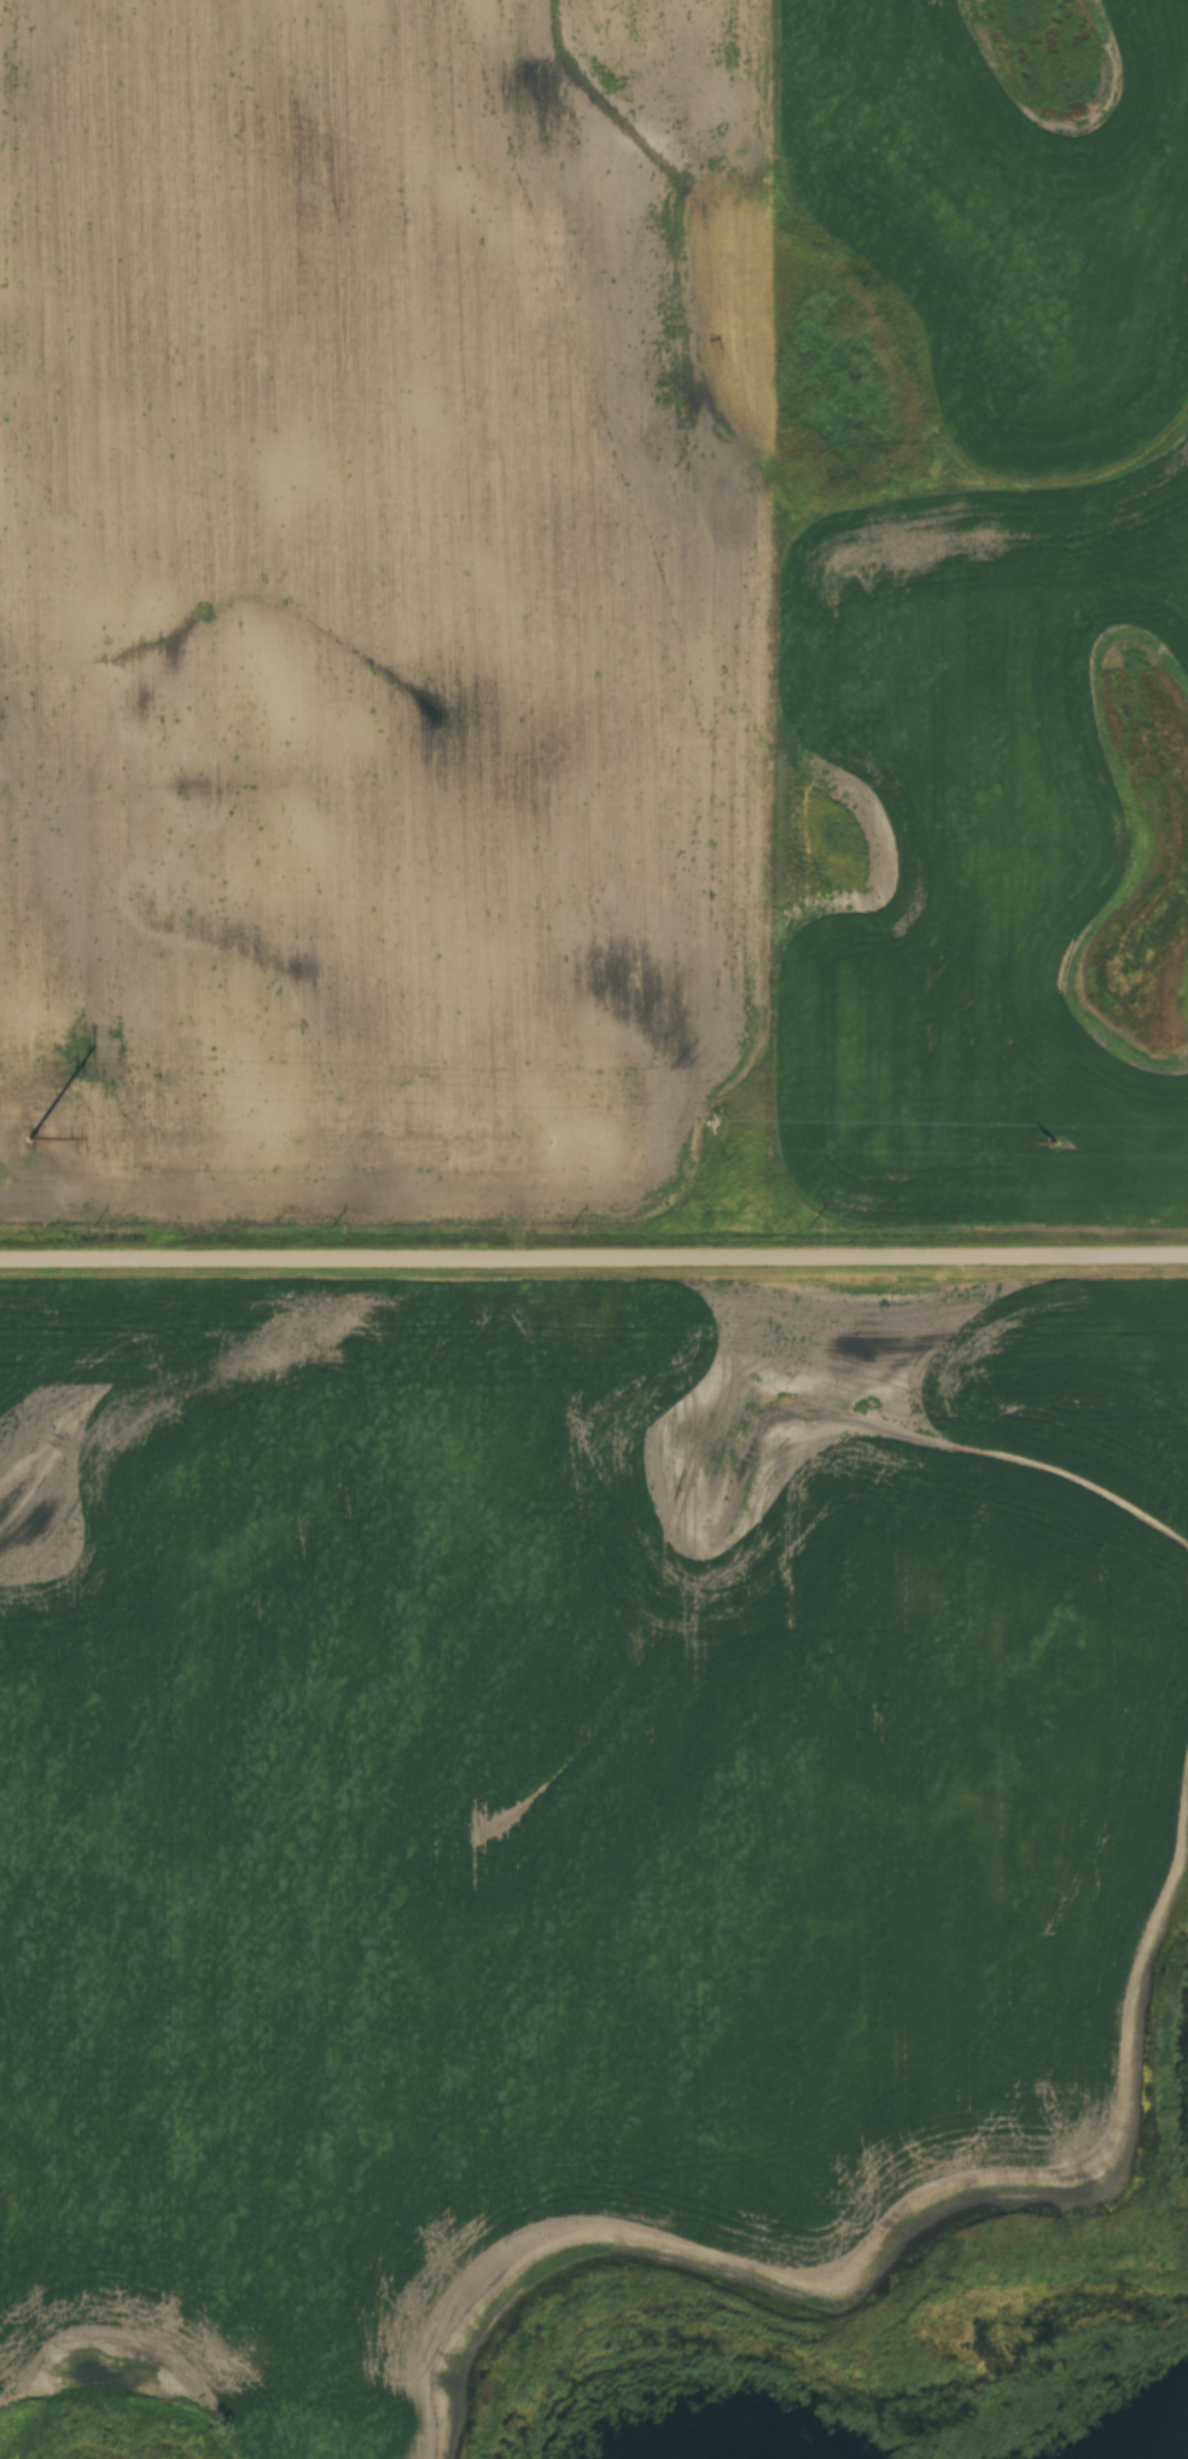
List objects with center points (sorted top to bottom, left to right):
power tower: (1053, 1117)
power tower: (29, 1122)
road: (593, 1260)

